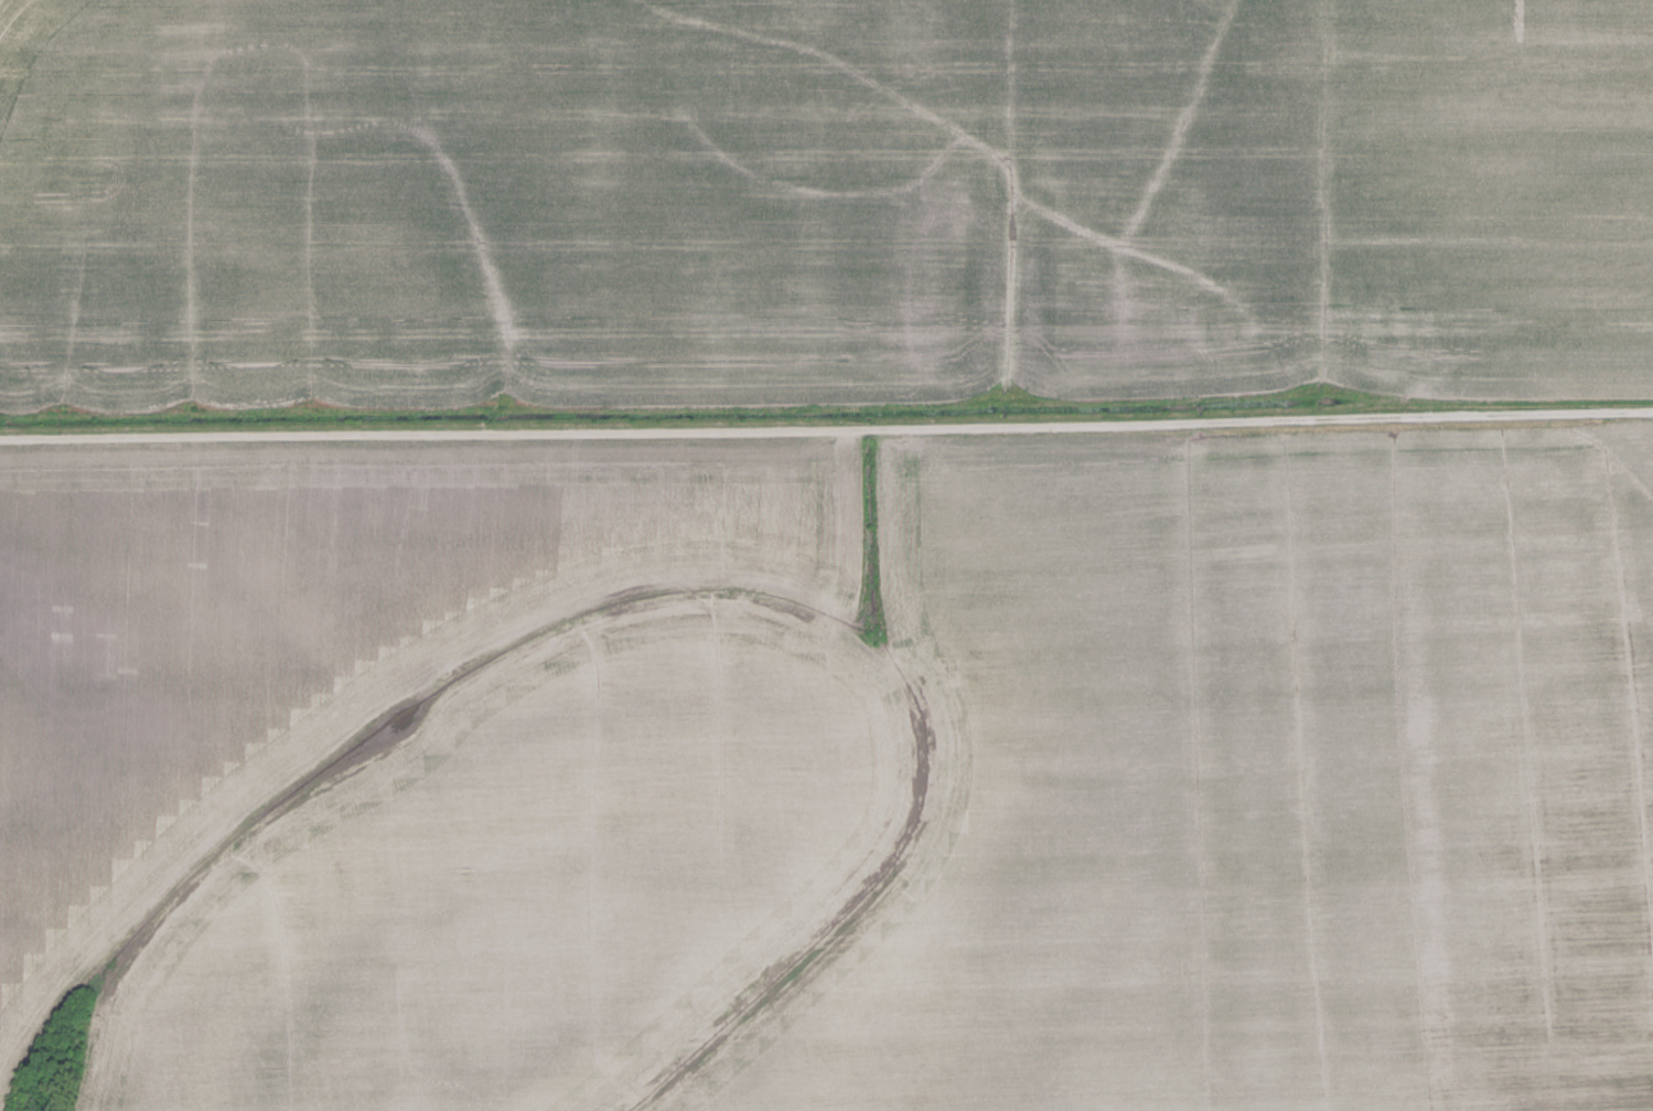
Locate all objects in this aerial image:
road: (826, 428)

